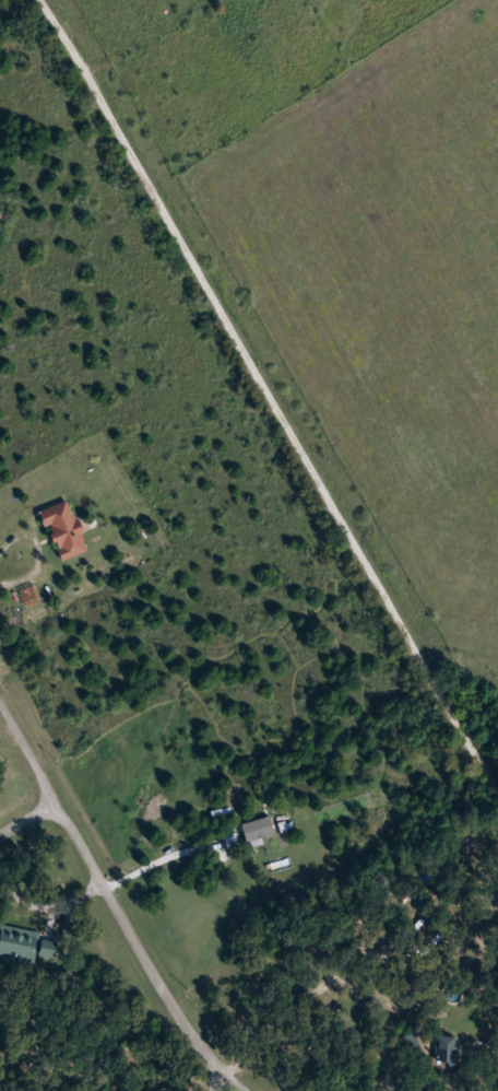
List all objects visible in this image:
road: (133, 46)
road: (273, 396)
building: (64, 529)
road: (27, 750)
road: (25, 817)
building: (259, 830)
building: (19, 945)
road: (139, 951)
building: (50, 952)
building: (411, 1044)
building: (447, 1047)

